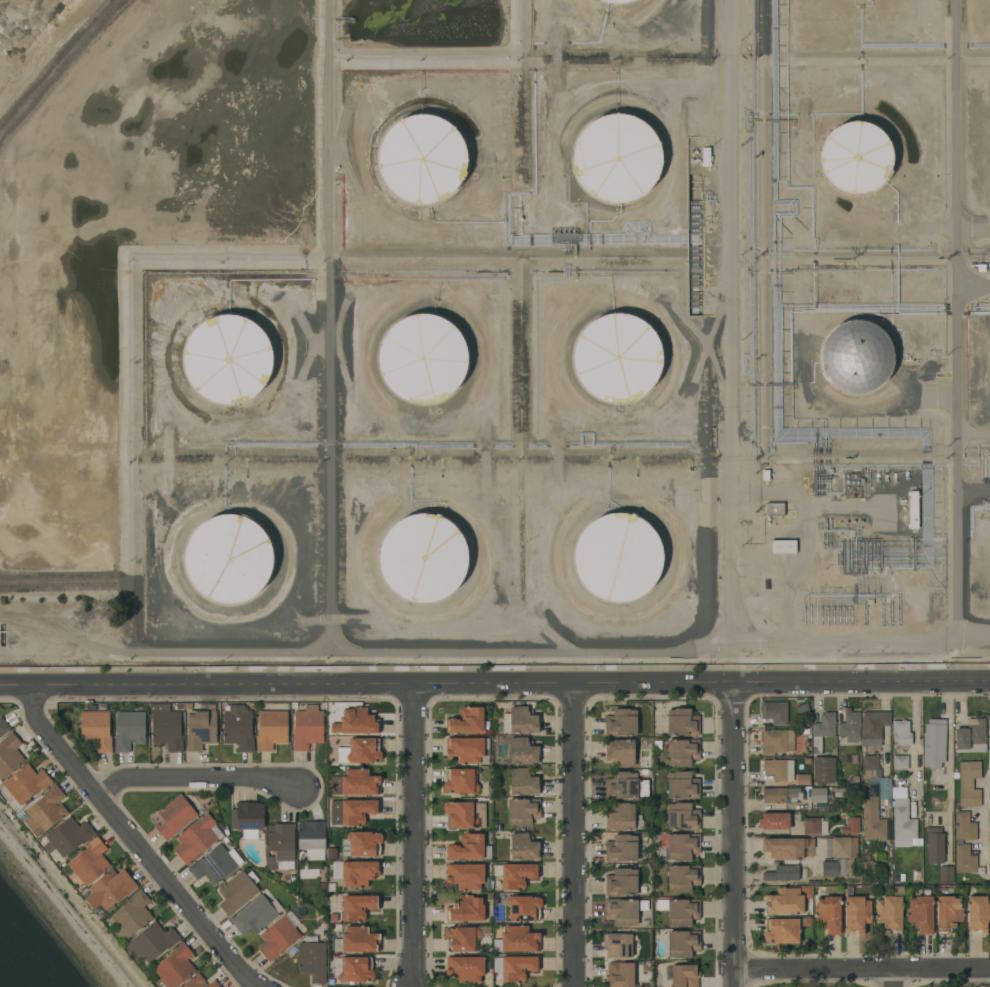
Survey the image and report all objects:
building: (615, 1)
storage tank: (615, 1)
building: (856, 157)
storage tank: (856, 157)
building: (422, 158)
storage tank: (422, 158)
building: (617, 158)
storage tank: (617, 158)
building: (617, 357)
storage tank: (617, 357)
building: (856, 357)
storage tank: (856, 357)
building: (423, 358)
storage tank: (423, 358)
building: (228, 359)
storage tank: (228, 359)
building: (775, 509)
building: (914, 510)
building: (783, 546)
building: (618, 557)
storage tank: (618, 557)
building: (229, 558)
storage tank: (229, 558)
building: (423, 558)
storage tank: (423, 558)
road: (529, 655)
road: (495, 686)
building: (775, 712)
building: (359, 721)
building: (468, 721)
building: (520, 721)
building: (621, 722)
building: (682, 722)
building: (825, 725)
building: (3, 726)
building: (850, 726)
building: (238, 727)
building: (307, 727)
building: (201, 728)
building: (873, 728)
building: (271, 729)
building: (96, 730)
building: (129, 730)
building: (167, 730)
building: (902, 732)
building: (971, 737)
building: (776, 741)
building: (934, 743)
road: (916, 748)
building: (468, 750)
building: (359, 751)
building: (522, 751)
building: (682, 752)
building: (620, 753)
building: (9, 755)
building: (901, 763)
building: (870, 767)
building: (778, 769)
road: (949, 773)
road: (196, 777)
building: (803, 779)
building: (0, 781)
building: (460, 781)
building: (523, 782)
building: (355, 783)
building: (26, 784)
building: (969, 784)
building: (682, 785)
building: (621, 786)
building: (885, 789)
building: (842, 793)
building: (899, 793)
building: (793, 794)
building: (774, 795)
building: (817, 795)
building: (45, 811)
building: (357, 811)
building: (523, 811)
building: (480, 813)
building: (460, 815)
building: (174, 817)
building: (247, 817)
building: (620, 817)
building: (682, 817)
building: (774, 819)
building: (873, 820)
road: (984, 822)
building: (903, 824)
building: (815, 826)
building: (851, 826)
building: (964, 826)
building: (67, 836)
road: (413, 836)
road: (575, 836)
road: (734, 836)
building: (196, 838)
building: (989, 838)
building: (311, 839)
road: (137, 840)
building: (361, 844)
building: (680, 846)
building: (839, 846)
building: (934, 846)
building: (280, 847)
building: (523, 847)
building: (469, 848)
building: (782, 848)
building: (622, 849)
building: (964, 859)
building: (89, 862)
building: (866, 862)
building: (215, 865)
building: (833, 867)
building: (359, 872)
building: (785, 873)
building: (989, 874)
building: (515, 875)
building: (946, 875)
building: (465, 876)
building: (683, 878)
building: (621, 882)
building: (110, 889)
building: (238, 891)
building: (784, 901)
building: (358, 906)
building: (524, 908)
building: (466, 909)
building: (624, 911)
building: (682, 912)
building: (828, 914)
building: (857, 914)
building: (889, 914)
building: (920, 914)
building: (948, 914)
building: (978, 914)
building: (131, 915)
building: (254, 916)
building: (806, 922)
building: (782, 930)
building: (277, 938)
building: (464, 938)
building: (360, 940)
building: (519, 940)
building: (152, 942)
building: (683, 944)
building: (618, 945)
building: (312, 958)
building: (174, 967)
building: (514, 967)
building: (465, 968)
building: (614, 969)
building: (356, 970)
road: (861, 970)
building: (623, 976)
building: (685, 976)
road: (894, 978)
building: (194, 982)
building: (213, 984)

